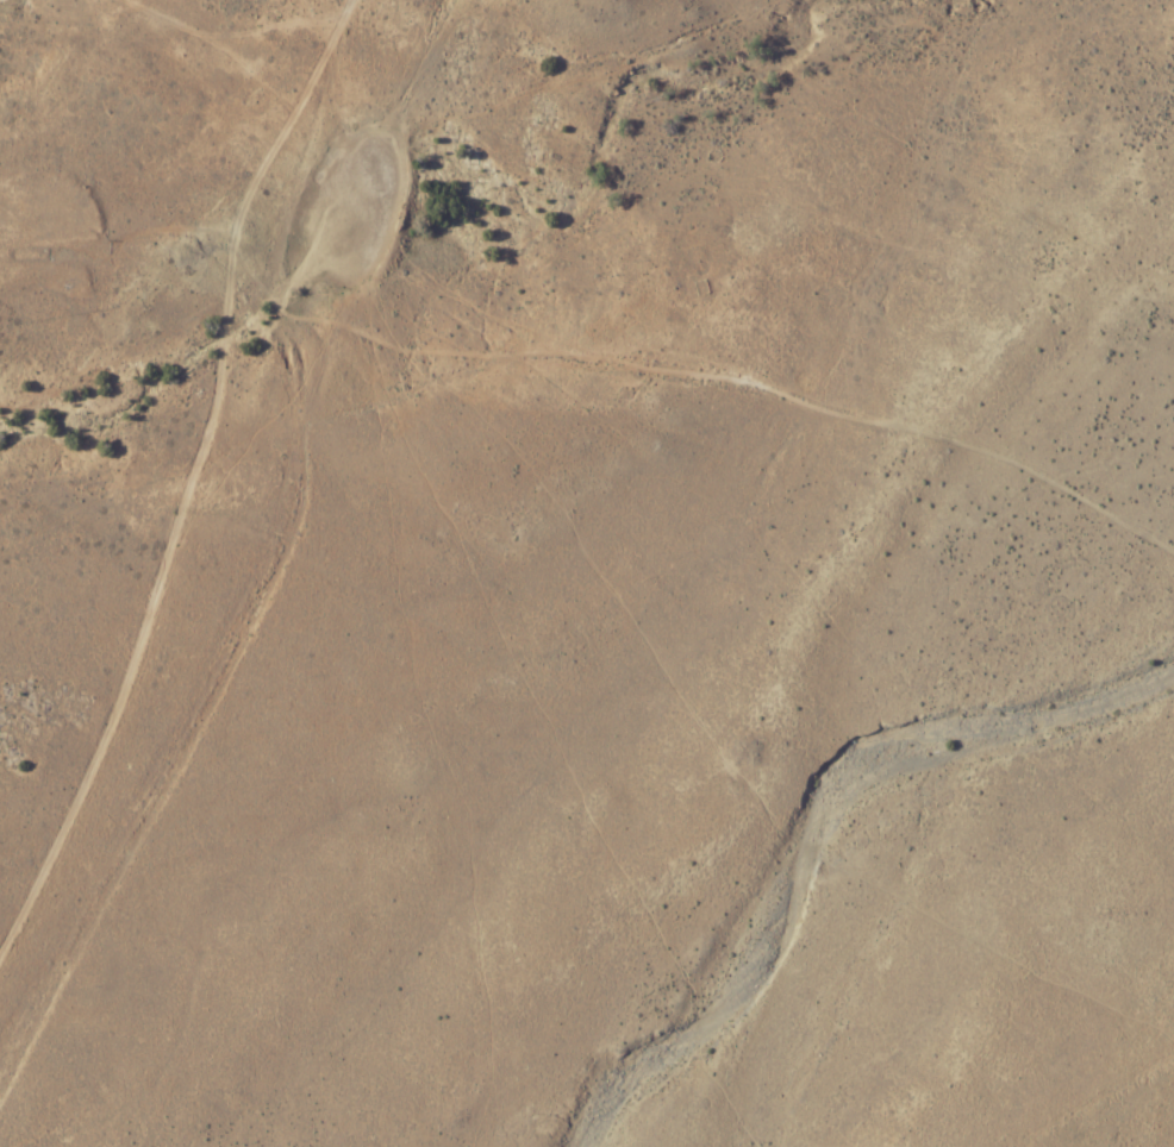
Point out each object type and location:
road: (691, 402)
road: (192, 475)
river: (844, 850)
road: (1099, 1091)

